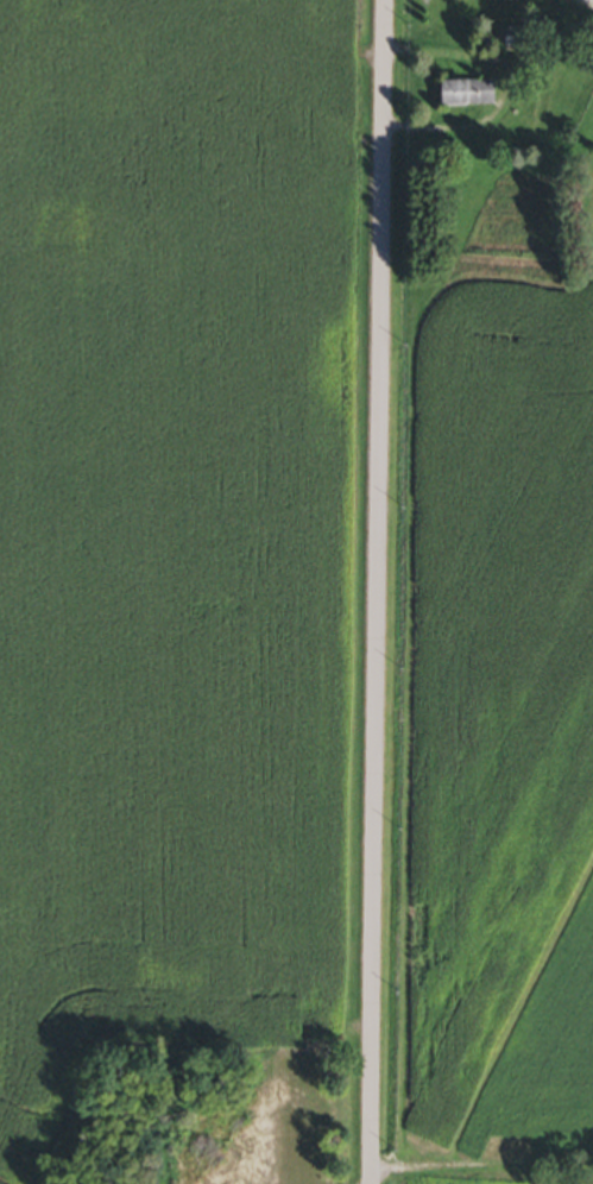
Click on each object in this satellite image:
building: (466, 96)
road: (379, 591)

